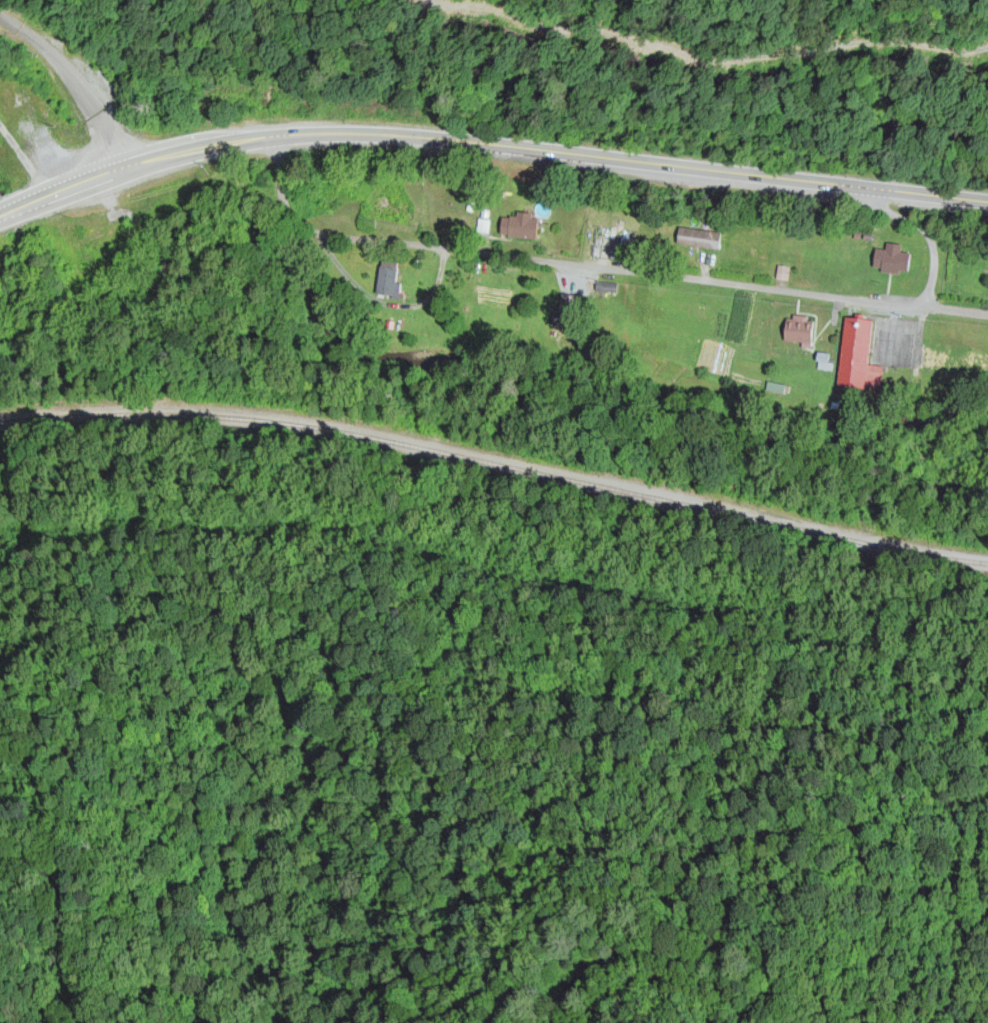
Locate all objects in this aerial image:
road: (722, 63)
road: (80, 79)
road: (488, 147)
building: (393, 212)
building: (526, 228)
road: (922, 232)
building: (701, 240)
road: (395, 244)
building: (893, 261)
building: (390, 281)
road: (777, 291)
building: (570, 312)
building: (802, 330)
building: (857, 354)
building: (953, 365)
railway: (496, 467)

